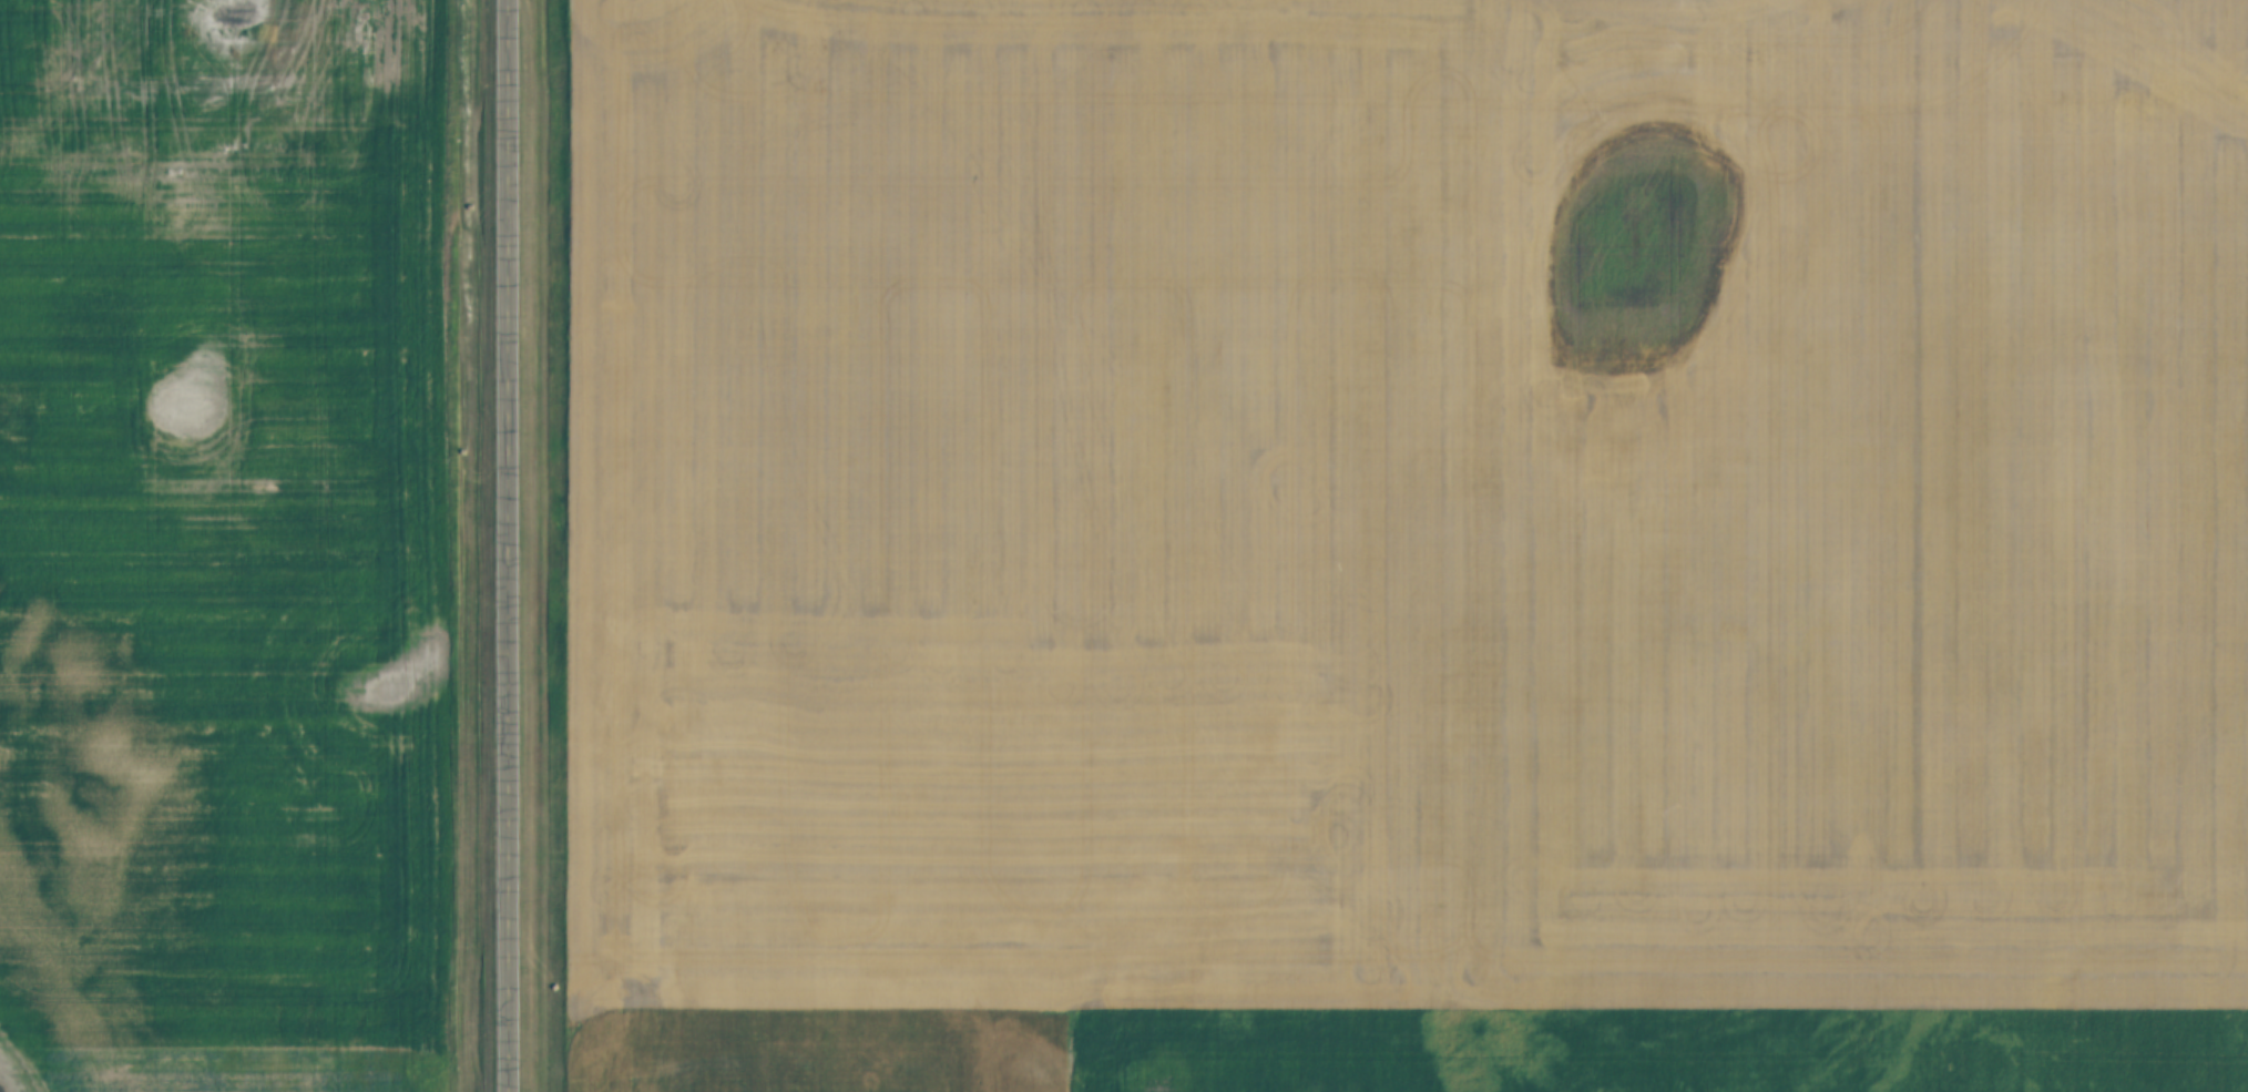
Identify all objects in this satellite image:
road: (508, 545)

